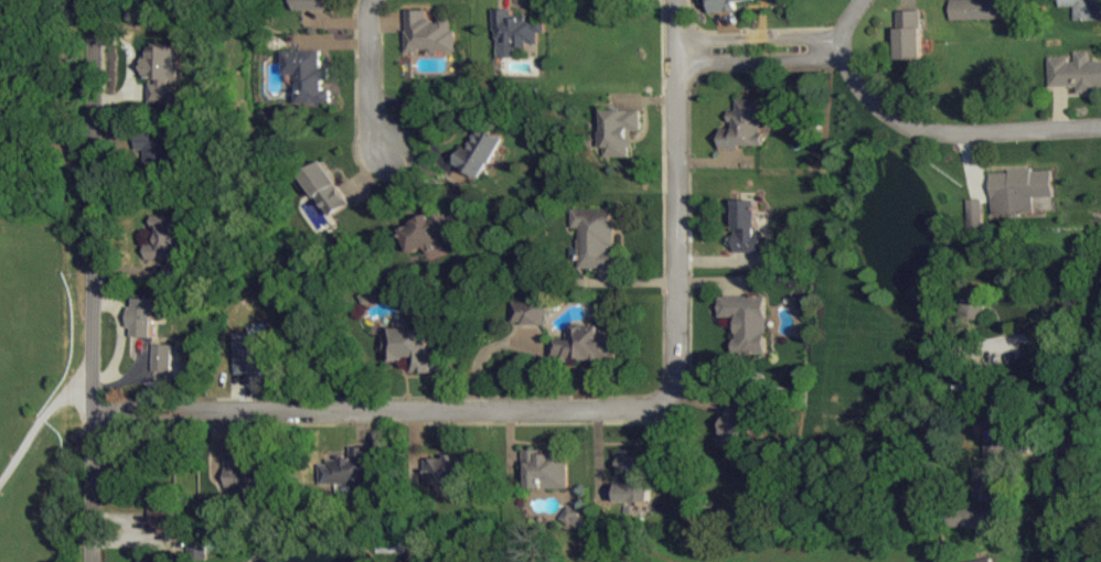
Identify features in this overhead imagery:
building: (310, 4)
building: (725, 4)
building: (1084, 8)
building: (979, 9)
road: (677, 20)
road: (848, 22)
building: (430, 32)
building: (516, 32)
building: (910, 34)
road: (761, 60)
building: (1076, 72)
building: (163, 73)
building: (309, 75)
road: (368, 78)
road: (877, 102)
building: (745, 126)
building: (619, 131)
building: (160, 147)
building: (478, 152)
building: (327, 188)
building: (1020, 190)
building: (976, 212)
building: (747, 228)
building: (431, 233)
building: (596, 237)
building: (167, 239)
road: (93, 280)
building: (976, 304)
building: (530, 312)
building: (145, 315)
building: (748, 322)
building: (588, 345)
building: (409, 346)
road: (1041, 346)
building: (254, 355)
building: (164, 360)
road: (560, 408)
building: (736, 426)
road: (38, 430)
building: (998, 435)
road: (1078, 451)
building: (351, 468)
building: (449, 469)
building: (546, 471)
building: (632, 479)
building: (985, 482)
building: (910, 500)
building: (970, 517)
building: (162, 518)
building: (575, 518)
building: (193, 550)
building: (983, 560)

